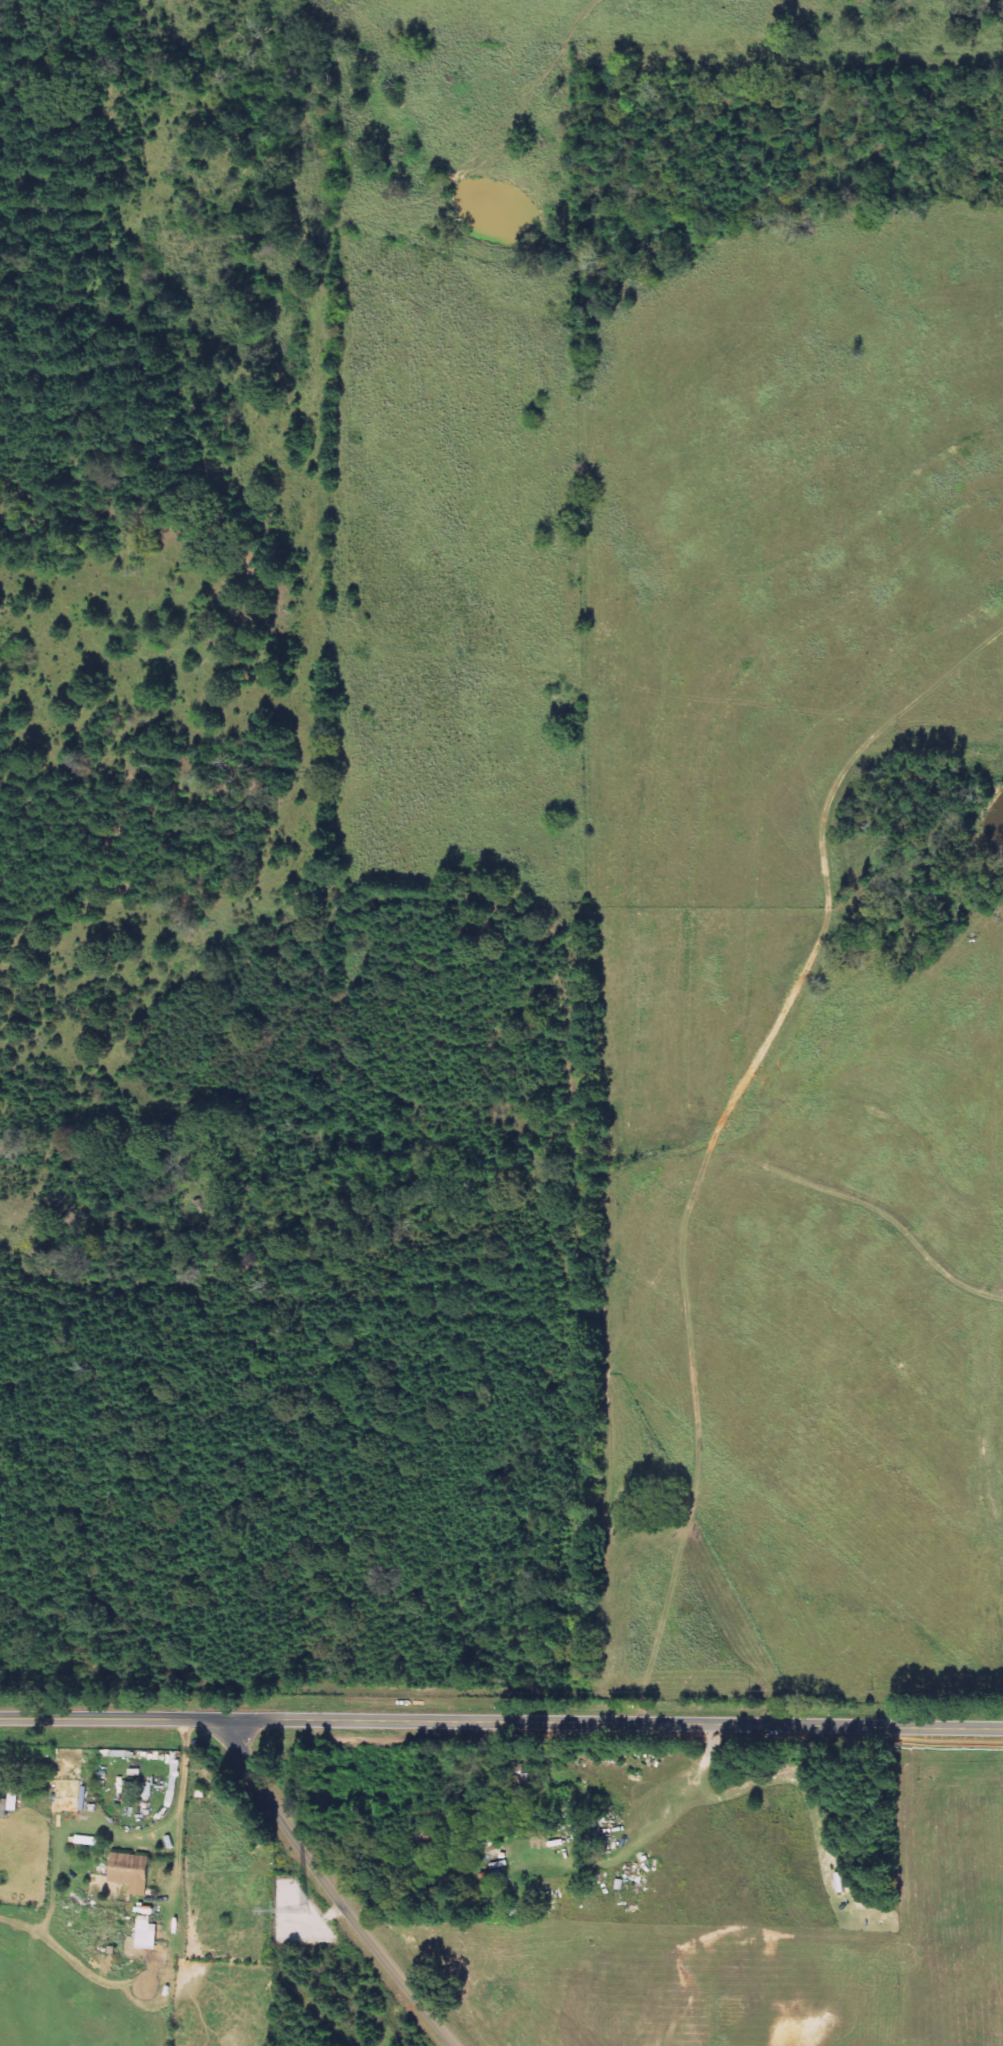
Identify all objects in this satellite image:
road: (501, 1722)
building: (8, 1805)
building: (129, 1871)
road: (331, 1889)
building: (146, 1933)

